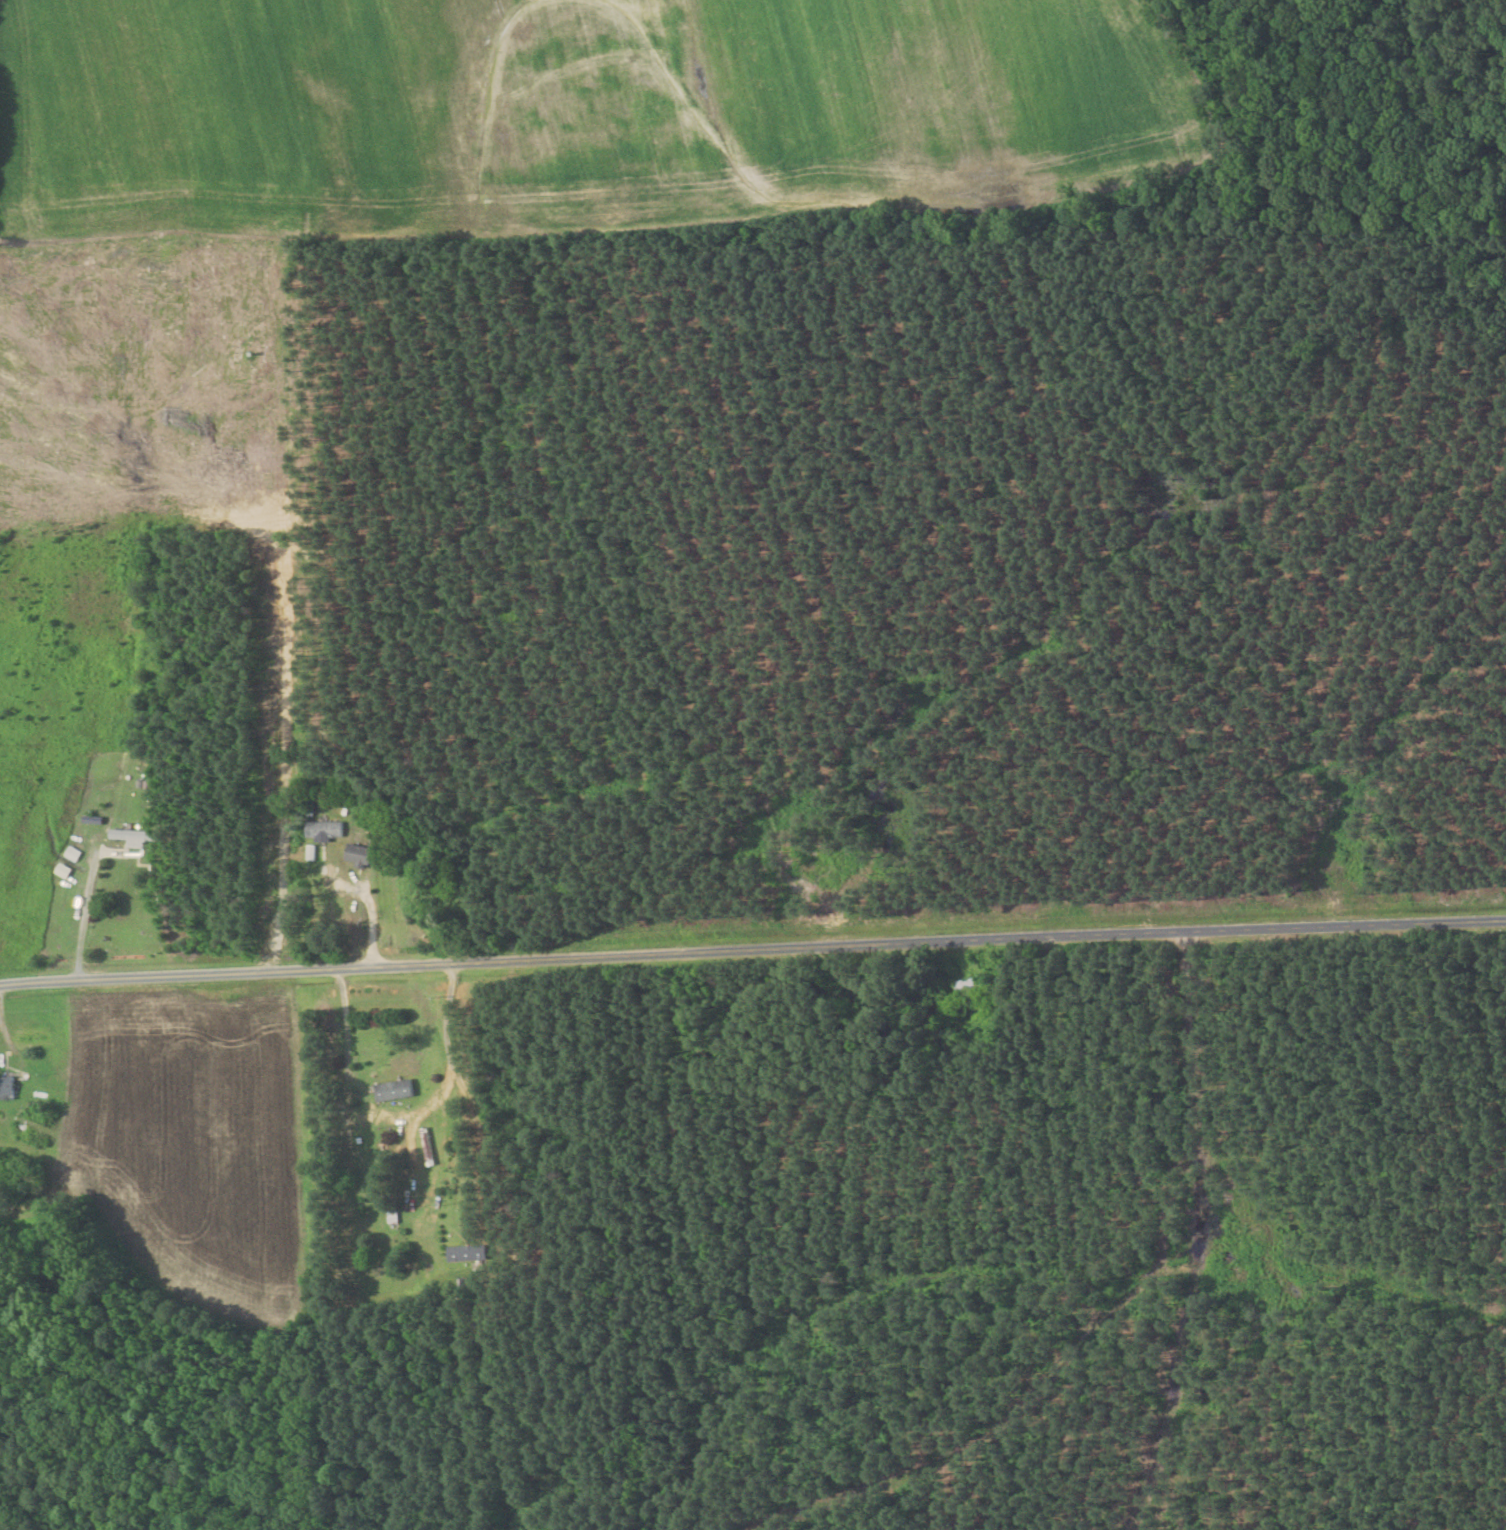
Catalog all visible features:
road: (752, 954)
building: (393, 1088)

